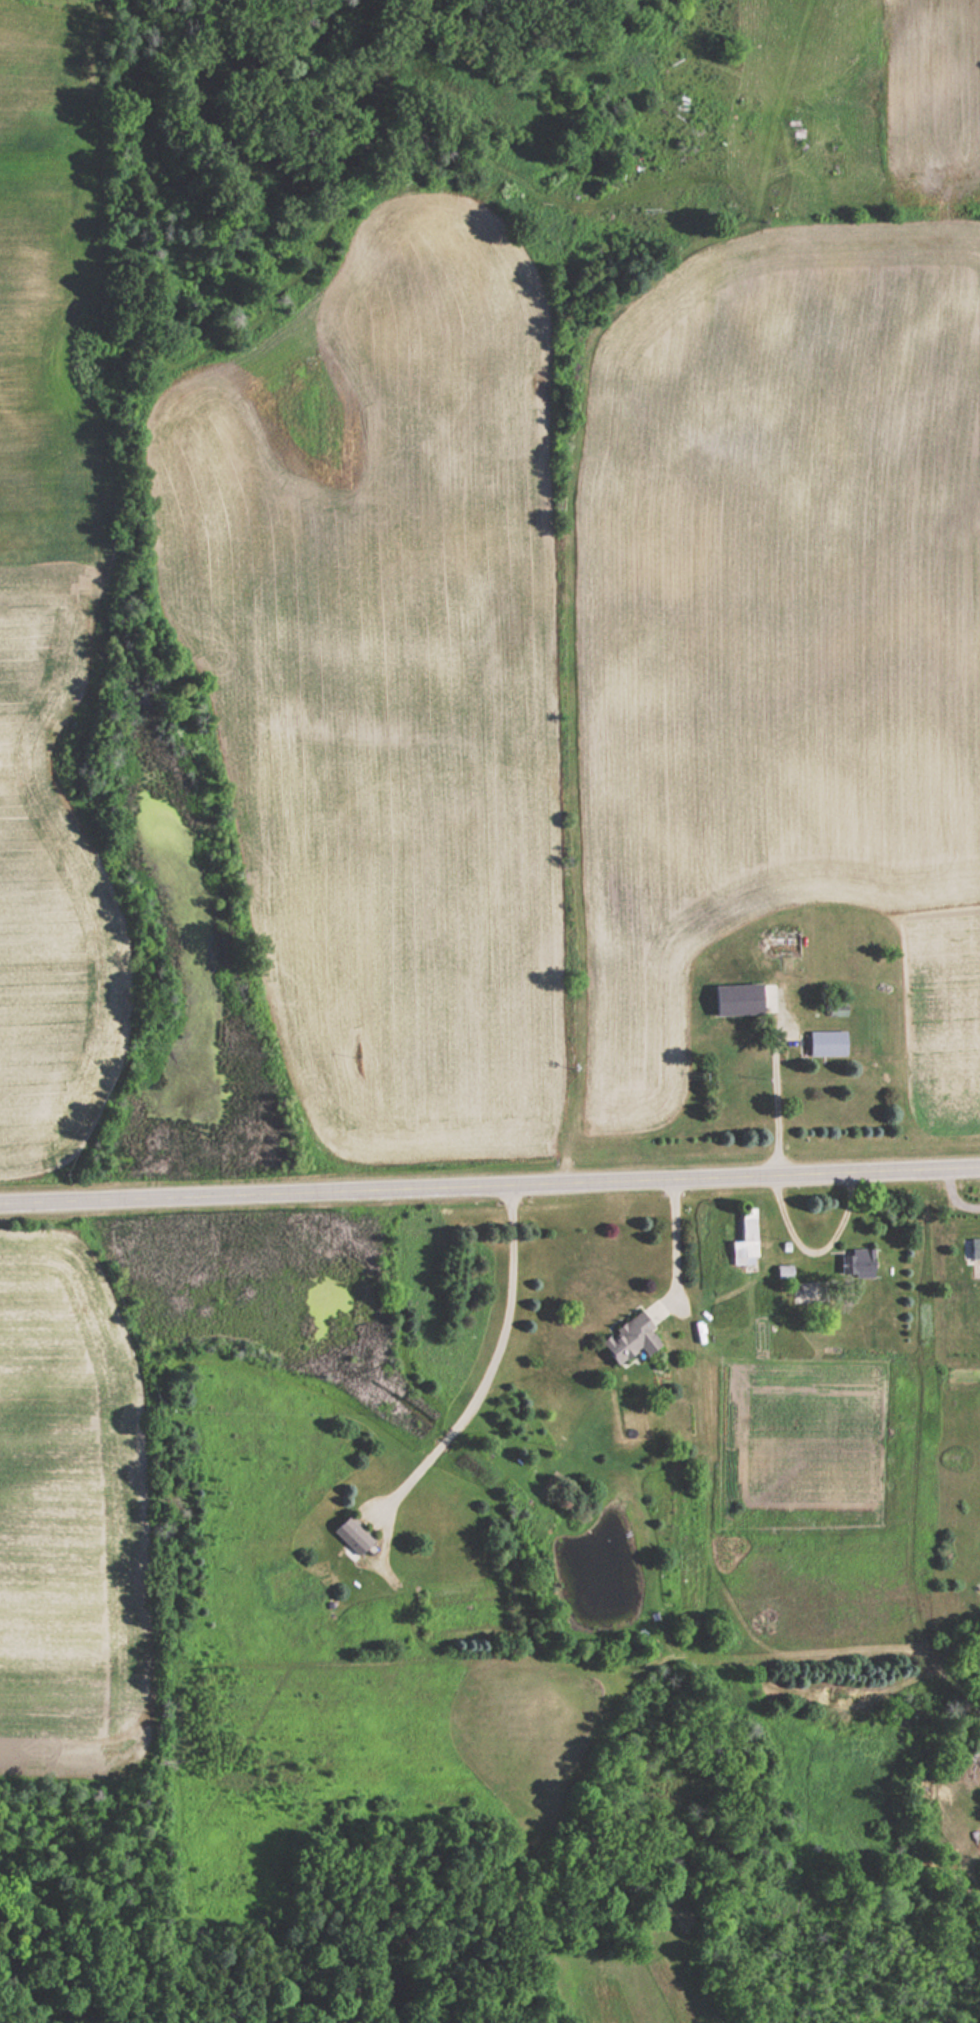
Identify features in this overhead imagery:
building: (782, 942)
building: (737, 997)
building: (826, 1042)
road: (489, 1180)
building: (745, 1238)
building: (975, 1248)
building: (856, 1263)
building: (630, 1337)
building: (352, 1536)

